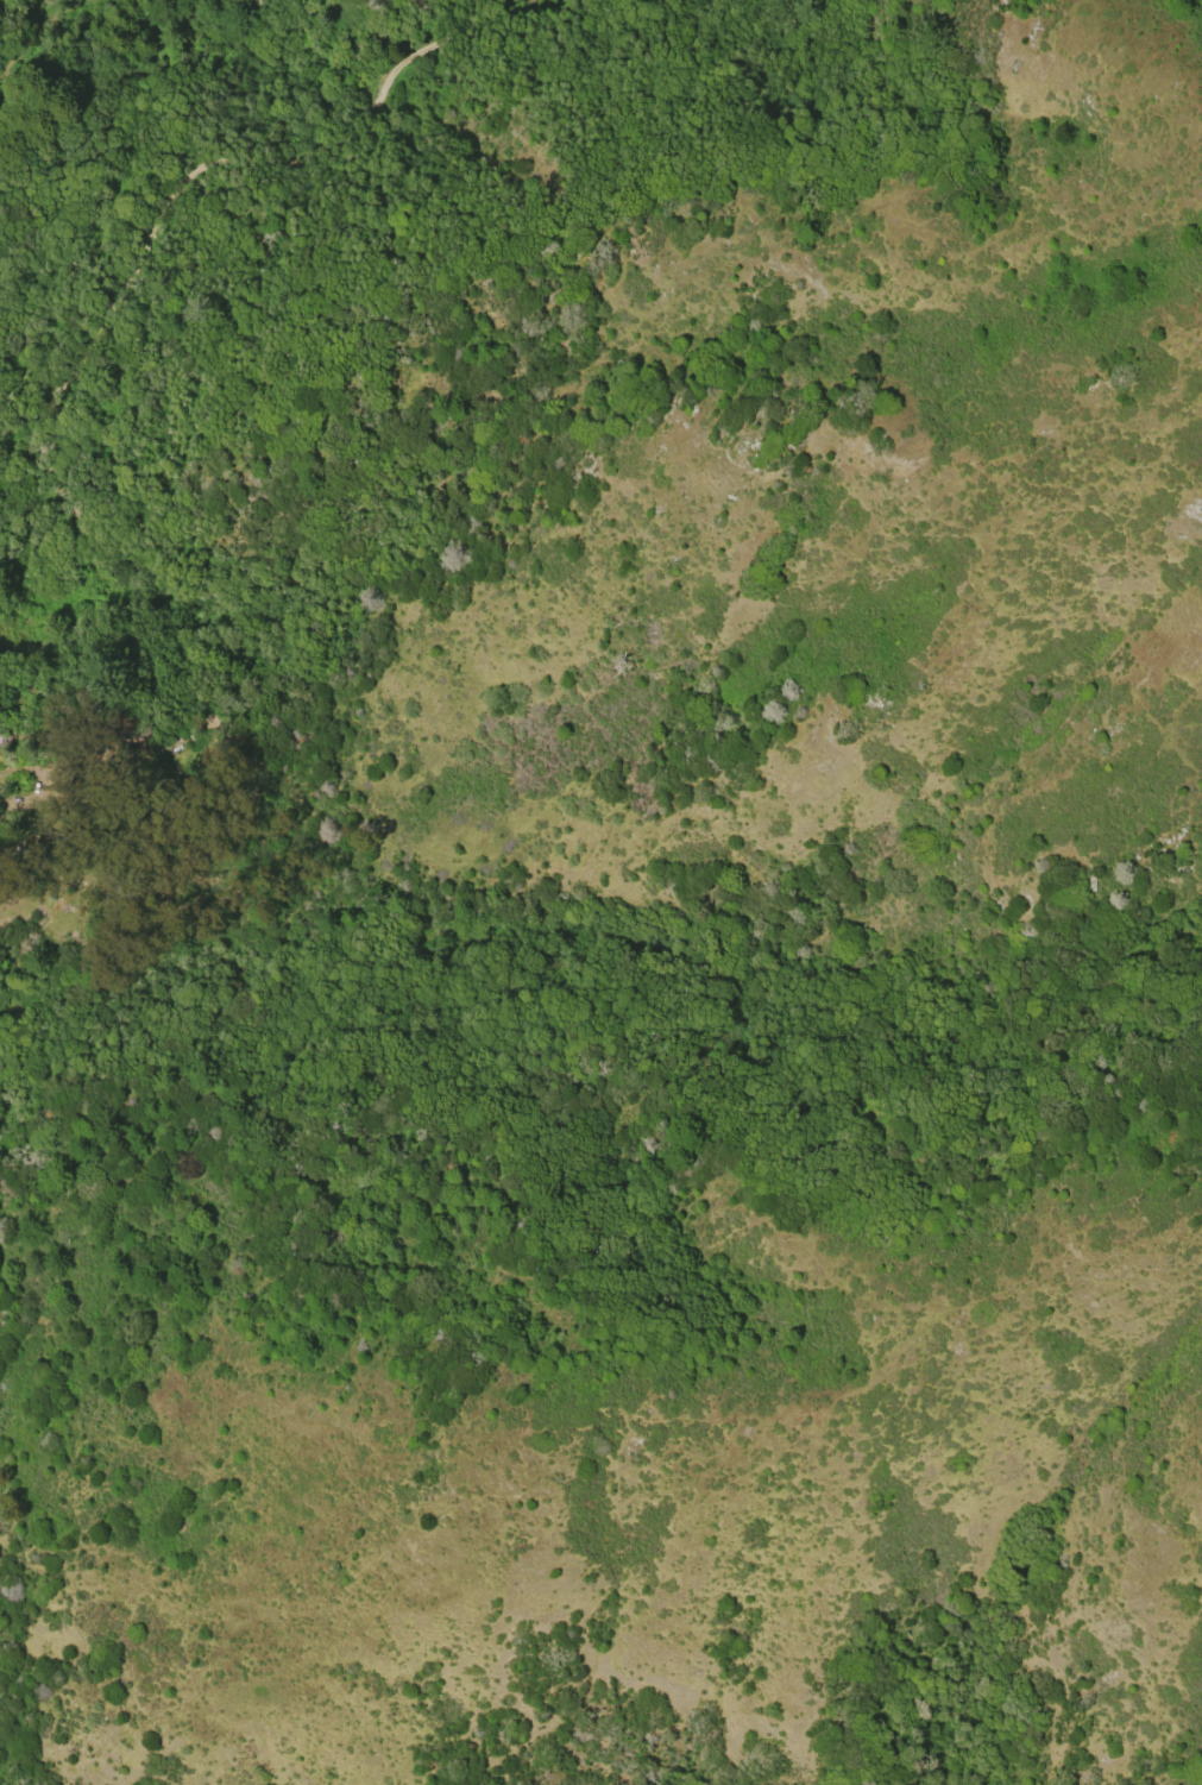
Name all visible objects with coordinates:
road: (51, 11)
road: (20, 39)
road: (212, 270)
road: (119, 763)

